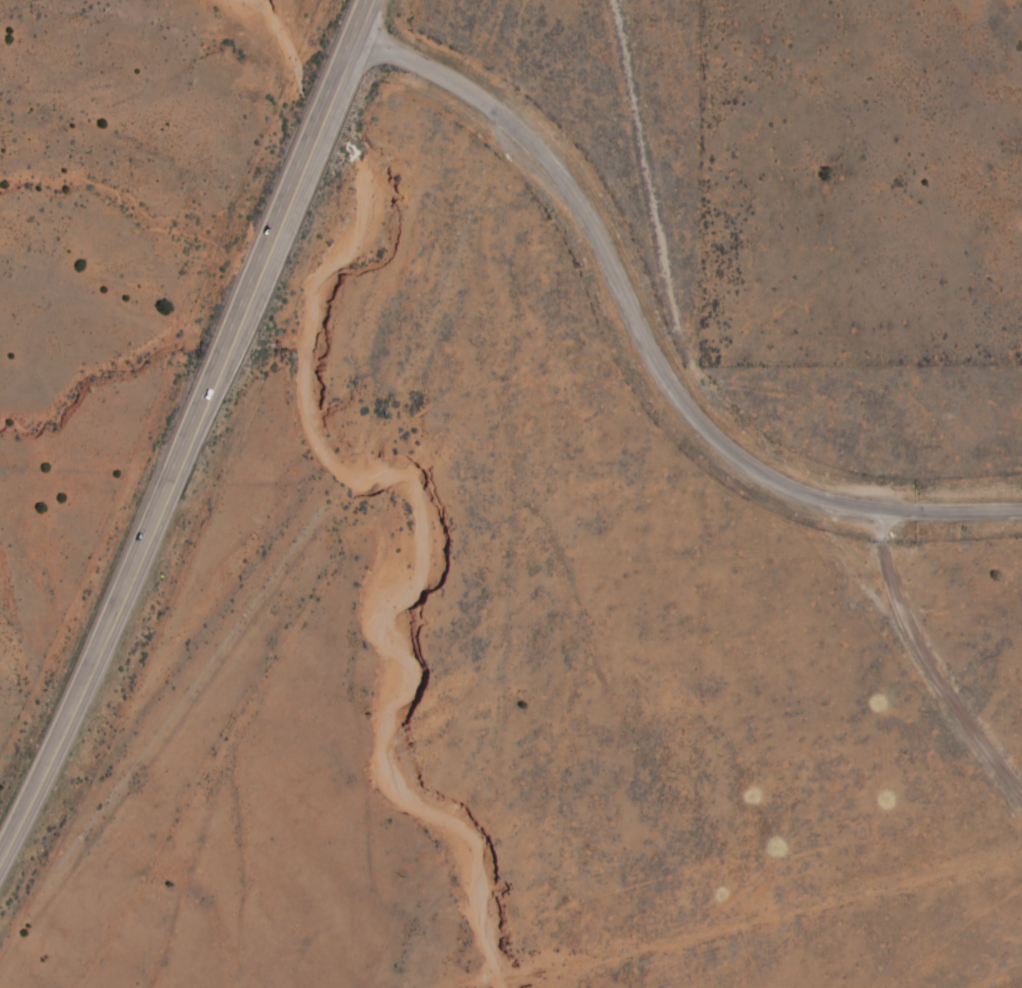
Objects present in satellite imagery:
road: (648, 346)
road: (192, 426)
road: (407, 540)

